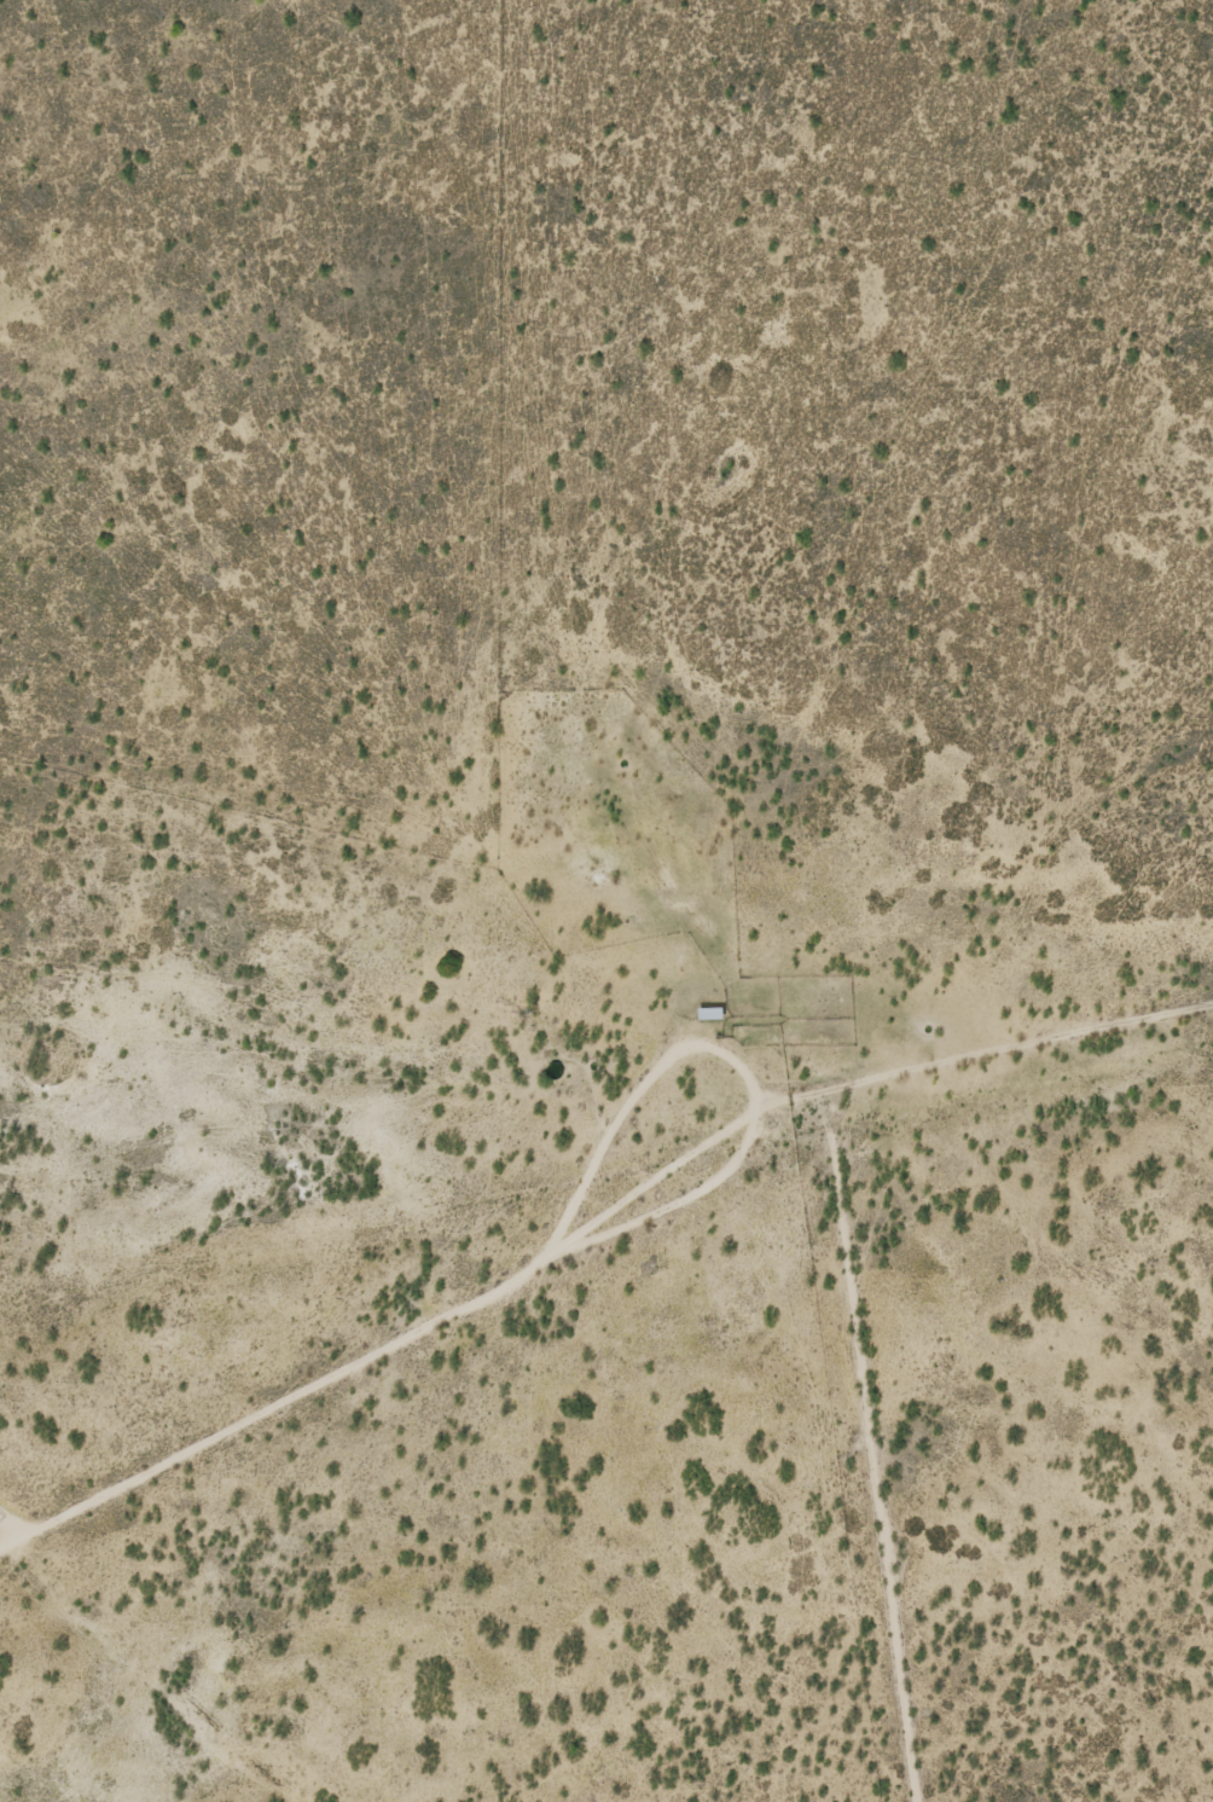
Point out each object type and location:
road: (271, 1403)

